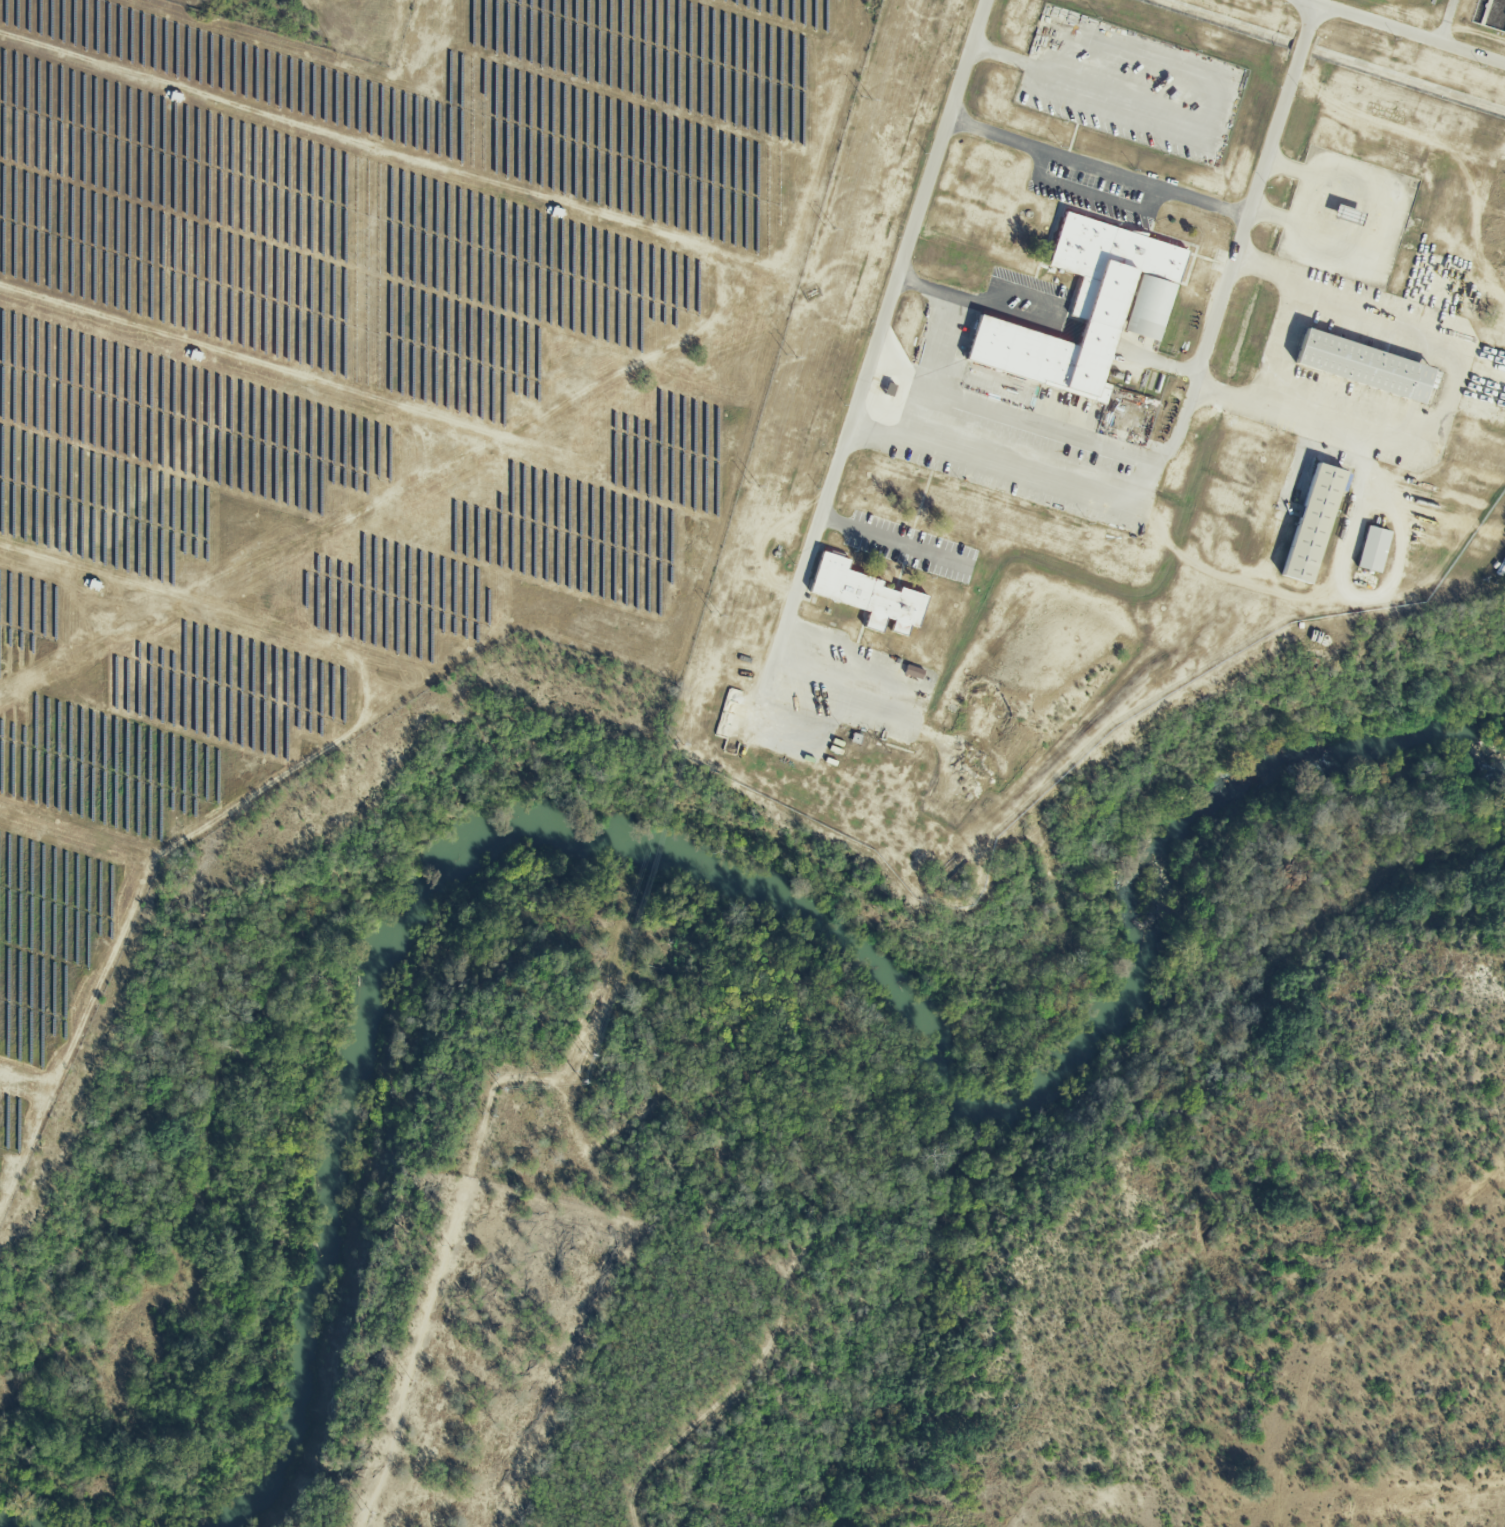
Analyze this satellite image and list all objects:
wastewater plant: (325, 24)
road: (1409, 33)
road: (1148, 185)
road: (1381, 223)
road: (996, 289)
building: (1090, 307)
building: (1365, 365)
road: (1448, 396)
wastewater plant: (1104, 398)
solar farm: (359, 403)
road: (901, 411)
road: (1009, 414)
road: (1014, 472)
road: (828, 483)
road: (890, 540)
building: (1373, 548)
road: (1357, 588)
building: (867, 594)
building: (913, 671)
river: (747, 877)

